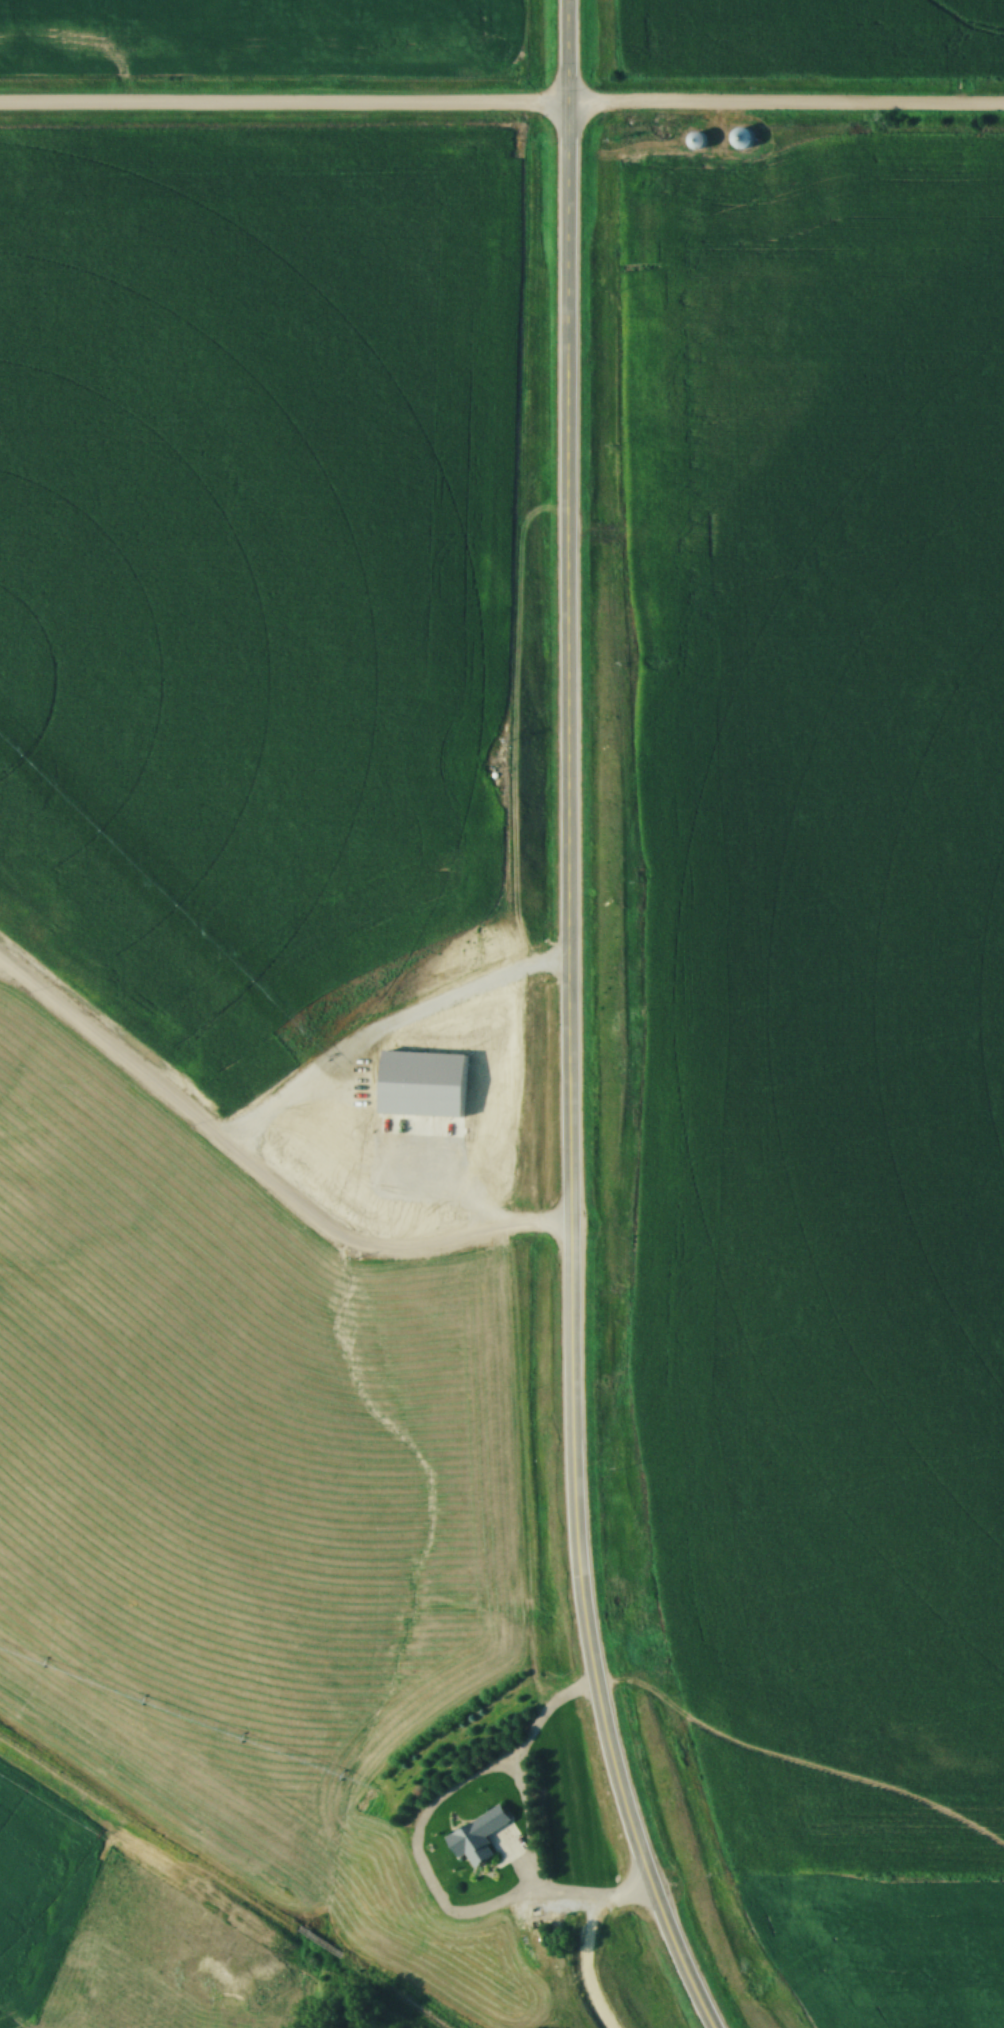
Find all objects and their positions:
road: (786, 108)
road: (284, 111)
building: (739, 139)
building: (695, 142)
road: (569, 1024)
road: (260, 1180)
building: (476, 1836)
railway: (175, 1878)
road: (590, 1946)

